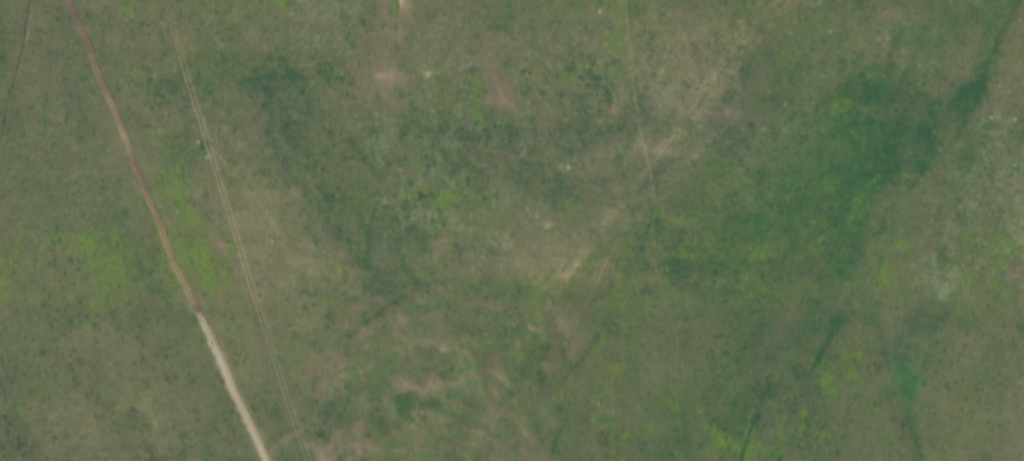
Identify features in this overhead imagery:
road: (598, 215)

